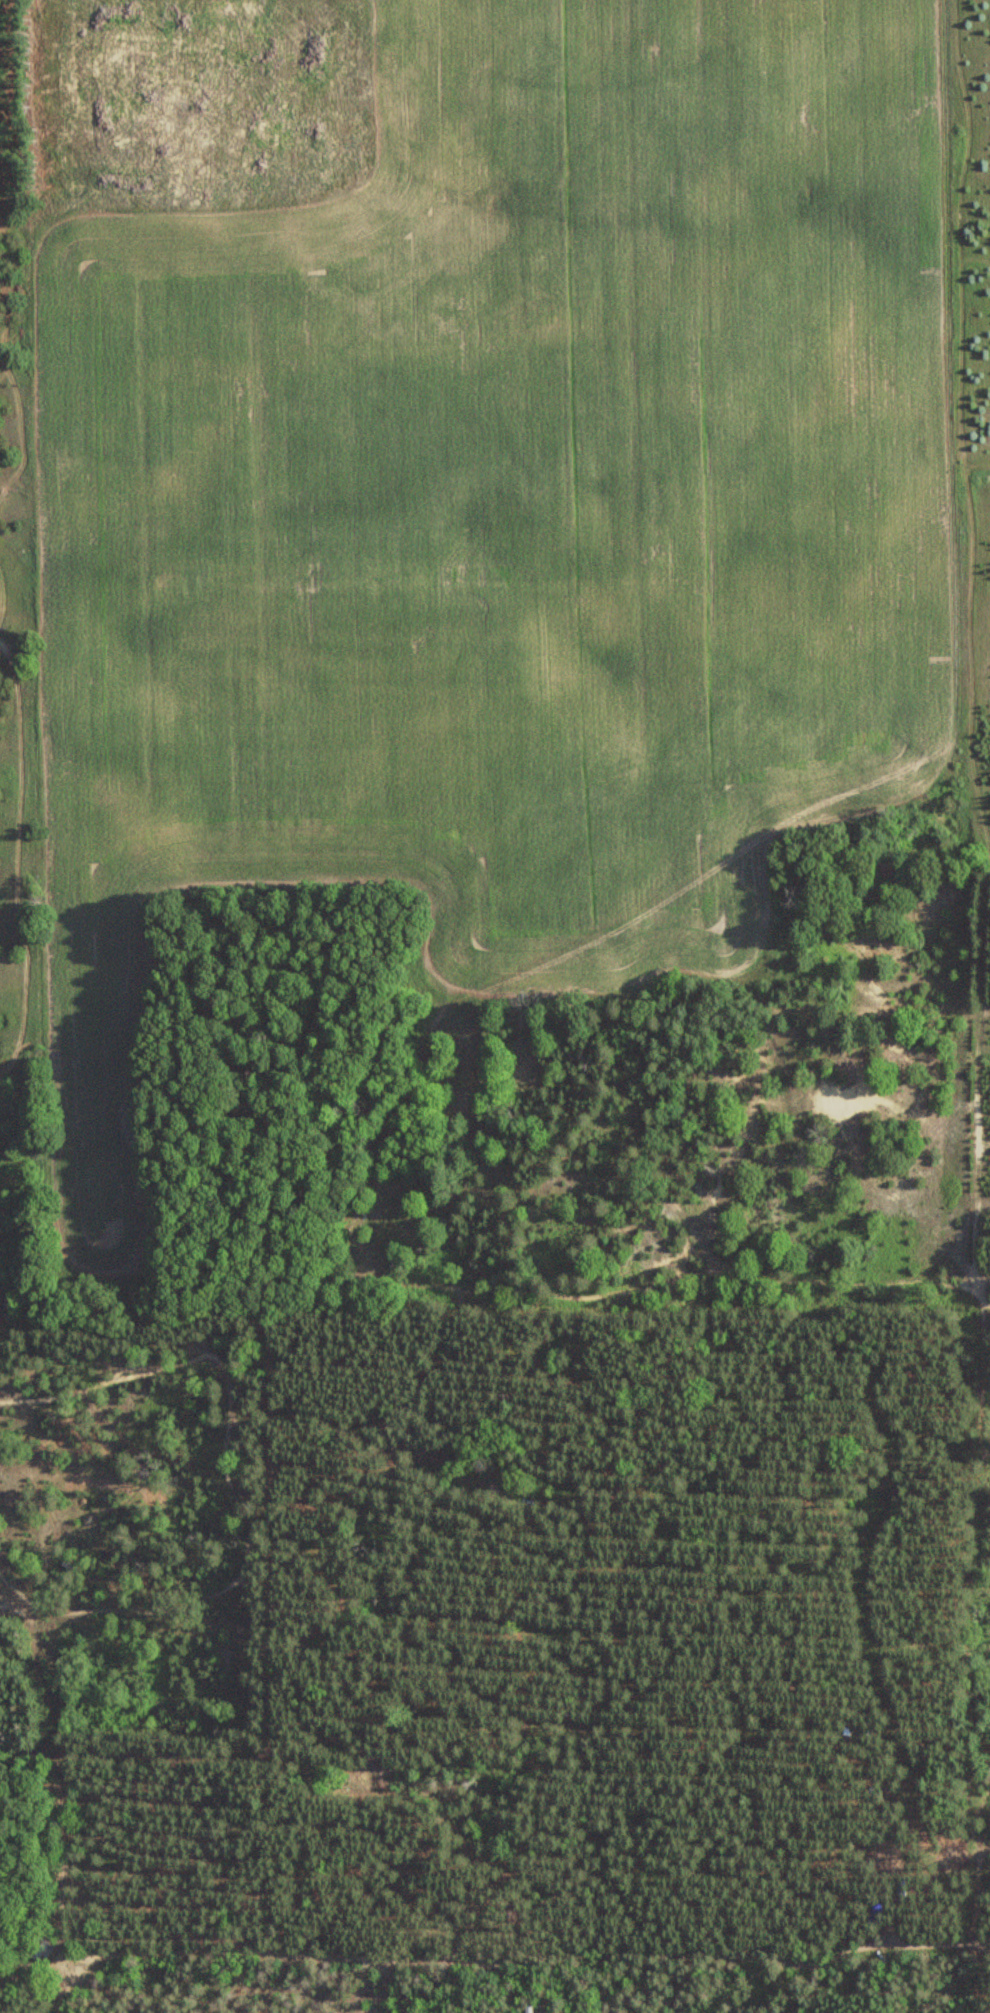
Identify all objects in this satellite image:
road: (742, 1285)
road: (989, 1302)
road: (978, 1855)

